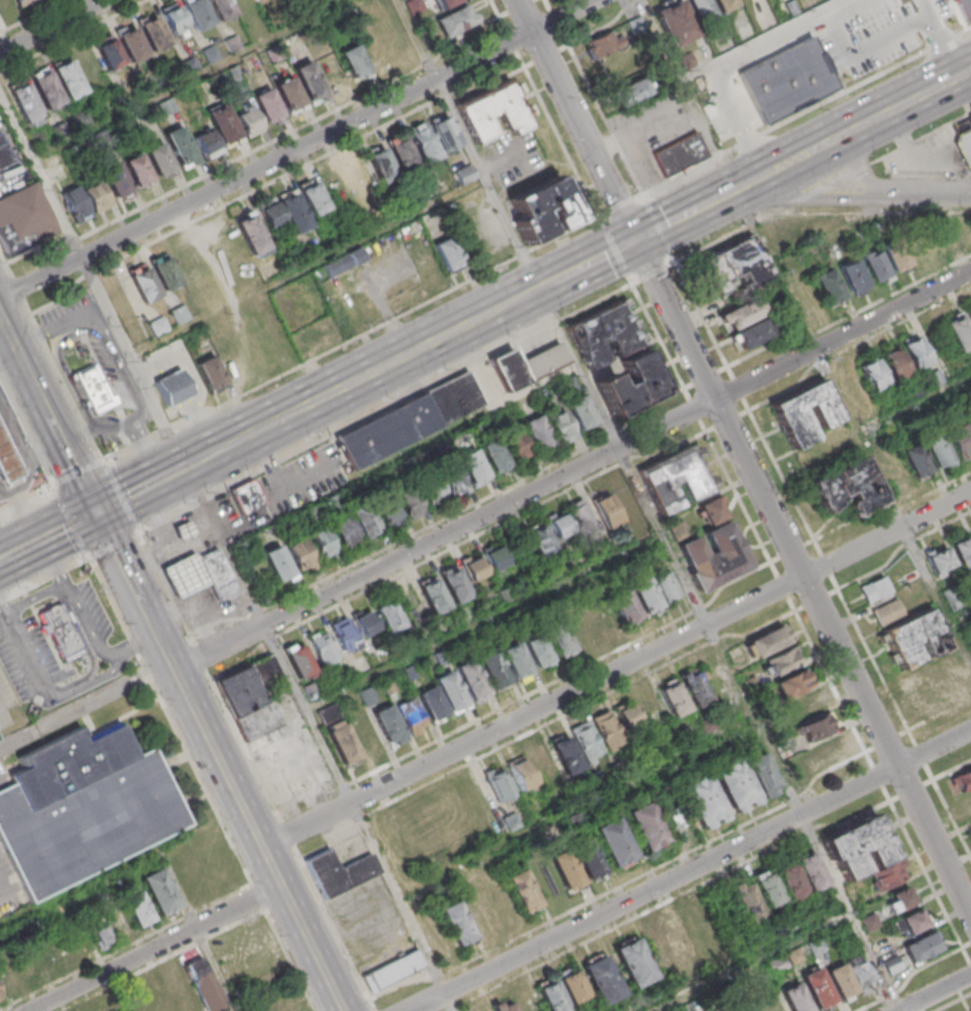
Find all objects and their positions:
building: (25, 3)
building: (442, 3)
building: (726, 5)
road: (517, 6)
road: (544, 6)
road: (628, 6)
building: (221, 8)
road: (851, 8)
building: (966, 8)
building: (701, 9)
road: (924, 9)
building: (199, 15)
road: (32, 16)
building: (173, 17)
road: (496, 17)
building: (456, 19)
road: (552, 20)
building: (675, 21)
building: (636, 24)
road: (52, 26)
road: (594, 31)
road: (465, 32)
building: (723, 34)
road: (894, 36)
building: (156, 37)
road: (844, 37)
road: (561, 38)
road: (509, 43)
road: (946, 47)
building: (134, 48)
road: (561, 48)
road: (665, 49)
building: (109, 54)
road: (544, 57)
road: (425, 64)
building: (356, 65)
road: (526, 66)
road: (729, 69)
road: (192, 80)
building: (790, 82)
building: (312, 84)
road: (485, 86)
road: (588, 90)
building: (631, 91)
building: (45, 92)
road: (440, 96)
building: (291, 97)
building: (269, 108)
building: (492, 110)
building: (970, 114)
road: (801, 117)
building: (246, 119)
road: (642, 123)
building: (223, 126)
building: (445, 132)
road: (556, 133)
road: (921, 136)
road: (833, 141)
road: (614, 142)
building: (205, 143)
building: (423, 143)
road: (715, 143)
road: (465, 145)
building: (966, 147)
road: (296, 148)
building: (183, 150)
building: (402, 154)
building: (5, 155)
building: (680, 155)
building: (161, 164)
building: (380, 164)
road: (211, 165)
road: (863, 168)
road: (928, 170)
road: (40, 174)
building: (139, 174)
building: (464, 174)
building: (358, 175)
road: (631, 176)
road: (651, 177)
building: (116, 182)
road: (829, 183)
road: (930, 193)
building: (96, 196)
road: (813, 197)
building: (312, 199)
road: (228, 202)
road: (617, 205)
building: (74, 206)
building: (558, 211)
road: (869, 212)
building: (284, 214)
road: (602, 214)
road: (601, 219)
building: (24, 223)
road: (665, 226)
road: (656, 228)
building: (250, 234)
road: (724, 235)
traffic signals: (635, 241)
road: (616, 248)
road: (608, 254)
building: (451, 256)
building: (896, 256)
road: (2, 259)
building: (736, 264)
building: (346, 265)
building: (874, 265)
road: (309, 270)
road: (7, 271)
road: (650, 272)
building: (852, 275)
building: (153, 279)
building: (828, 287)
road: (15, 289)
road: (535, 291)
road: (24, 307)
building: (969, 315)
building: (745, 316)
road: (846, 316)
road: (799, 319)
road: (14, 322)
road: (53, 332)
building: (958, 333)
building: (606, 334)
road: (660, 336)
building: (756, 336)
road: (351, 342)
road: (851, 345)
building: (915, 353)
road: (10, 355)
road: (134, 361)
building: (894, 365)
building: (528, 366)
road: (578, 368)
road: (122, 369)
road: (375, 372)
building: (871, 374)
road: (705, 376)
building: (213, 377)
building: (633, 389)
building: (96, 391)
building: (176, 391)
road: (82, 397)
building: (455, 397)
road: (386, 406)
road: (914, 406)
road: (694, 408)
building: (580, 413)
building: (790, 413)
road: (727, 420)
building: (969, 423)
building: (561, 427)
building: (388, 432)
building: (537, 433)
building: (959, 442)
building: (515, 444)
building: (937, 451)
road: (148, 452)
road: (745, 452)
road: (210, 455)
building: (497, 459)
road: (107, 460)
building: (915, 460)
building: (9, 463)
road: (36, 463)
building: (473, 467)
road: (574, 469)
road: (78, 471)
building: (678, 481)
building: (454, 482)
road: (43, 487)
road: (53, 488)
building: (849, 489)
building: (432, 491)
road: (122, 494)
road: (128, 496)
road: (738, 496)
building: (246, 497)
road: (20, 498)
building: (409, 503)
road: (4, 505)
road: (24, 508)
building: (605, 508)
traffic signals: (100, 512)
building: (713, 512)
building: (389, 513)
building: (578, 514)
road: (445, 517)
building: (363, 520)
road: (69, 522)
building: (559, 526)
road: (69, 528)
road: (138, 528)
building: (680, 530)
building: (343, 531)
building: (187, 535)
building: (539, 540)
road: (113, 543)
building: (322, 544)
road: (456, 544)
road: (5, 545)
building: (962, 552)
road: (19, 553)
road: (87, 553)
road: (821, 554)
building: (301, 555)
building: (495, 558)
building: (715, 558)
building: (939, 560)
building: (278, 564)
building: (473, 569)
road: (46, 577)
road: (132, 577)
building: (221, 577)
building: (188, 578)
road: (782, 584)
building: (667, 585)
road: (166, 588)
building: (456, 591)
building: (877, 592)
road: (936, 595)
building: (647, 598)
road: (38, 599)
building: (434, 601)
road: (77, 606)
building: (624, 607)
building: (889, 615)
road: (960, 615)
building: (603, 619)
building: (391, 621)
building: (364, 622)
road: (484, 624)
road: (711, 630)
building: (61, 633)
building: (344, 635)
building: (560, 642)
road: (625, 645)
building: (916, 645)
road: (26, 646)
building: (768, 646)
road: (139, 647)
building: (325, 649)
road: (89, 650)
building: (538, 652)
road: (200, 656)
building: (299, 661)
building: (785, 662)
building: (519, 665)
road: (618, 668)
building: (496, 673)
road: (634, 678)
road: (829, 679)
building: (474, 684)
building: (752, 684)
road: (90, 685)
road: (184, 687)
building: (795, 687)
building: (694, 688)
building: (311, 690)
building: (242, 693)
building: (367, 696)
building: (453, 696)
road: (162, 697)
building: (672, 698)
building: (804, 704)
road: (86, 707)
building: (435, 708)
building: (411, 715)
building: (627, 716)
road: (934, 717)
road: (172, 720)
building: (606, 728)
building: (392, 729)
building: (817, 730)
building: (367, 735)
building: (585, 740)
road: (885, 740)
building: (342, 742)
road: (243, 744)
building: (825, 752)
building: (565, 754)
building: (532, 767)
road: (947, 770)
road: (877, 774)
building: (962, 779)
building: (746, 780)
building: (497, 783)
building: (702, 801)
building: (84, 804)
road: (576, 805)
road: (361, 817)
building: (511, 821)
road: (254, 828)
building: (413, 828)
building: (649, 831)
road: (287, 833)
road: (232, 838)
building: (617, 848)
building: (859, 849)
building: (588, 861)
road: (276, 865)
building: (566, 870)
road: (693, 870)
building: (810, 870)
building: (888, 874)
road: (926, 874)
building: (342, 875)
building: (790, 880)
road: (1, 886)
road: (615, 887)
building: (766, 887)
building: (522, 890)
building: (160, 891)
road: (683, 891)
road: (260, 898)
road: (53, 899)
building: (898, 899)
building: (746, 900)
building: (137, 908)
road: (850, 912)
building: (116, 919)
building: (869, 921)
building: (913, 921)
building: (456, 922)
road: (335, 927)
building: (100, 935)
road: (198, 935)
road: (970, 944)
building: (667, 945)
building: (817, 945)
building: (881, 945)
building: (922, 947)
road: (160, 948)
road: (317, 948)
road: (292, 961)
road: (752, 962)
building: (893, 964)
building: (637, 969)
building: (860, 971)
building: (397, 975)
road: (913, 975)
building: (841, 981)
building: (204, 982)
building: (604, 985)
building: (573, 987)
building: (817, 987)
road: (933, 992)
building: (1, 994)
building: (794, 997)
road: (952, 1001)
building: (504, 1006)
road: (899, 1010)

